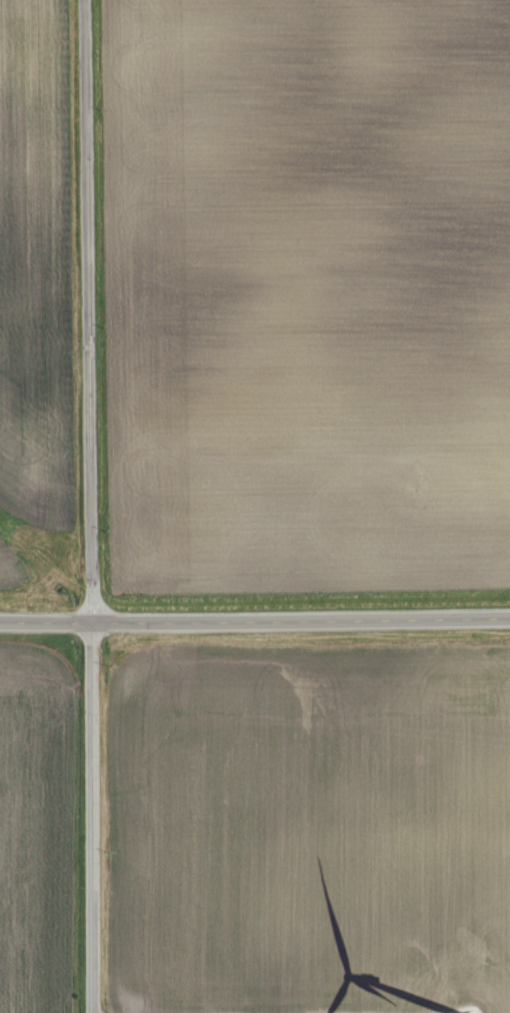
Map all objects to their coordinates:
road: (91, 506)
road: (255, 619)
wind turbine: (474, 1012)

